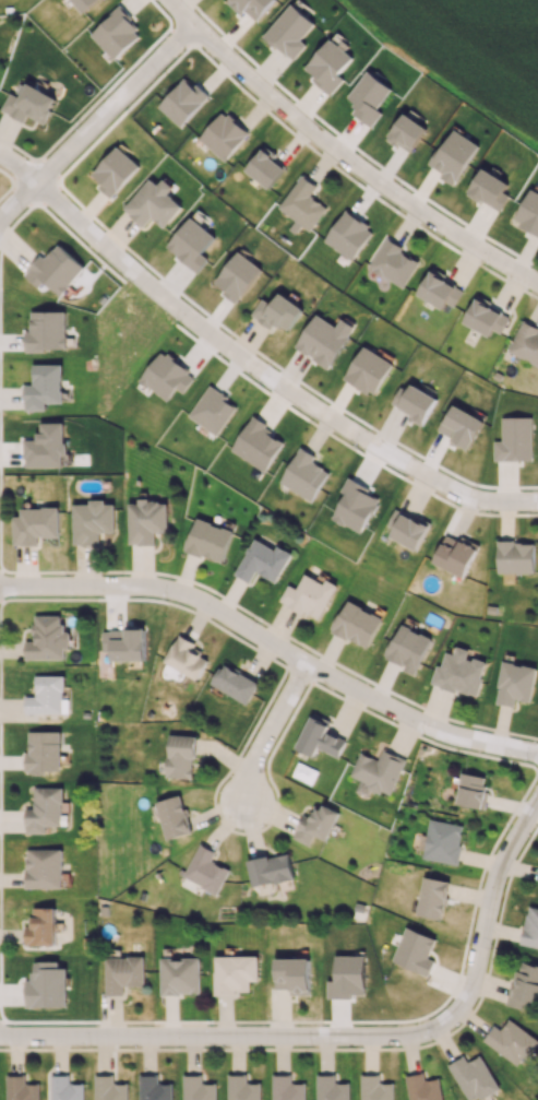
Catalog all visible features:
building: (84, 4)
building: (250, 7)
building: (289, 32)
building: (115, 33)
building: (327, 66)
building: (368, 97)
building: (182, 102)
building: (31, 104)
road: (95, 122)
building: (406, 132)
building: (223, 135)
building: (454, 155)
road: (340, 157)
building: (264, 167)
building: (115, 170)
building: (489, 189)
building: (153, 203)
building: (302, 203)
building: (528, 212)
building: (347, 235)
building: (191, 244)
building: (393, 263)
building: (55, 270)
building: (237, 275)
building: (440, 291)
building: (277, 311)
building: (485, 316)
building: (46, 331)
building: (324, 340)
building: (525, 343)
road: (251, 365)
building: (368, 370)
building: (166, 376)
building: (44, 387)
building: (414, 402)
building: (212, 411)
building: (461, 426)
building: (515, 439)
building: (256, 445)
building: (46, 446)
building: (303, 475)
building: (355, 506)
building: (92, 521)
building: (146, 521)
building: (35, 524)
building: (407, 529)
building: (208, 540)
building: (455, 554)
building: (515, 557)
building: (262, 561)
building: (309, 595)
building: (356, 624)
building: (48, 638)
building: (124, 643)
road: (275, 646)
building: (407, 648)
building: (186, 658)
building: (459, 672)
building: (514, 683)
building: (235, 684)
building: (47, 696)
road: (265, 733)
building: (320, 737)
building: (44, 750)
building: (180, 756)
building: (379, 771)
building: (471, 790)
building: (45, 809)
building: (174, 817)
building: (316, 824)
building: (443, 841)
building: (44, 867)
building: (270, 868)
building: (205, 870)
building: (432, 897)
road: (483, 909)
building: (41, 926)
building: (415, 951)
building: (123, 973)
building: (235, 973)
building: (294, 974)
building: (180, 975)
building: (347, 977)
building: (47, 985)
building: (524, 985)
road: (225, 1034)
building: (512, 1041)
building: (474, 1077)
building: (21, 1088)
building: (109, 1088)
building: (154, 1088)
building: (198, 1088)
building: (242, 1088)
building: (287, 1088)
building: (331, 1088)
building: (375, 1088)
building: (422, 1088)
building: (65, 1089)

